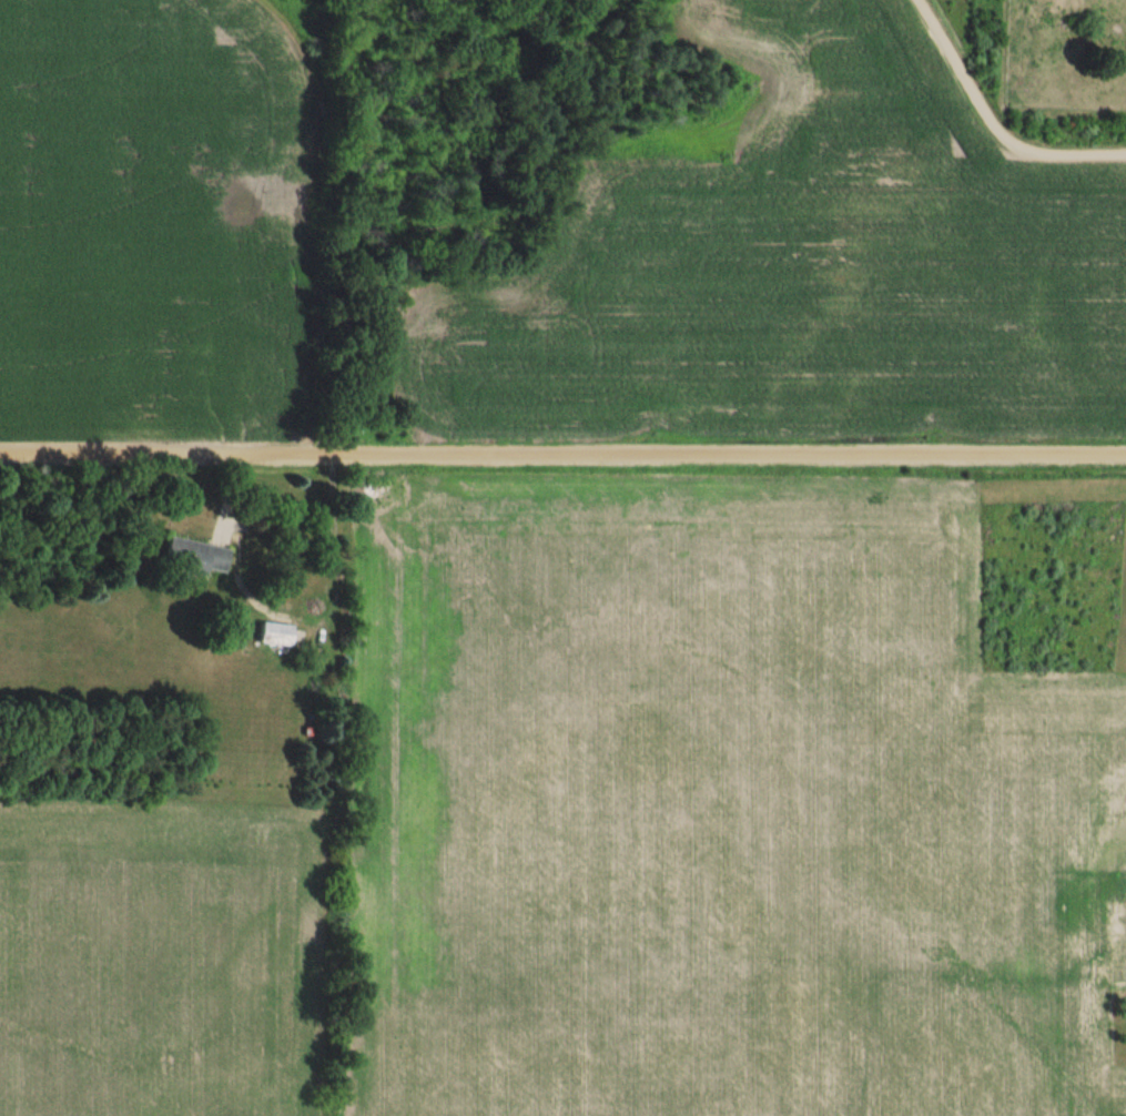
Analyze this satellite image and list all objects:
road: (996, 120)
road: (562, 456)
building: (196, 558)
building: (275, 633)

